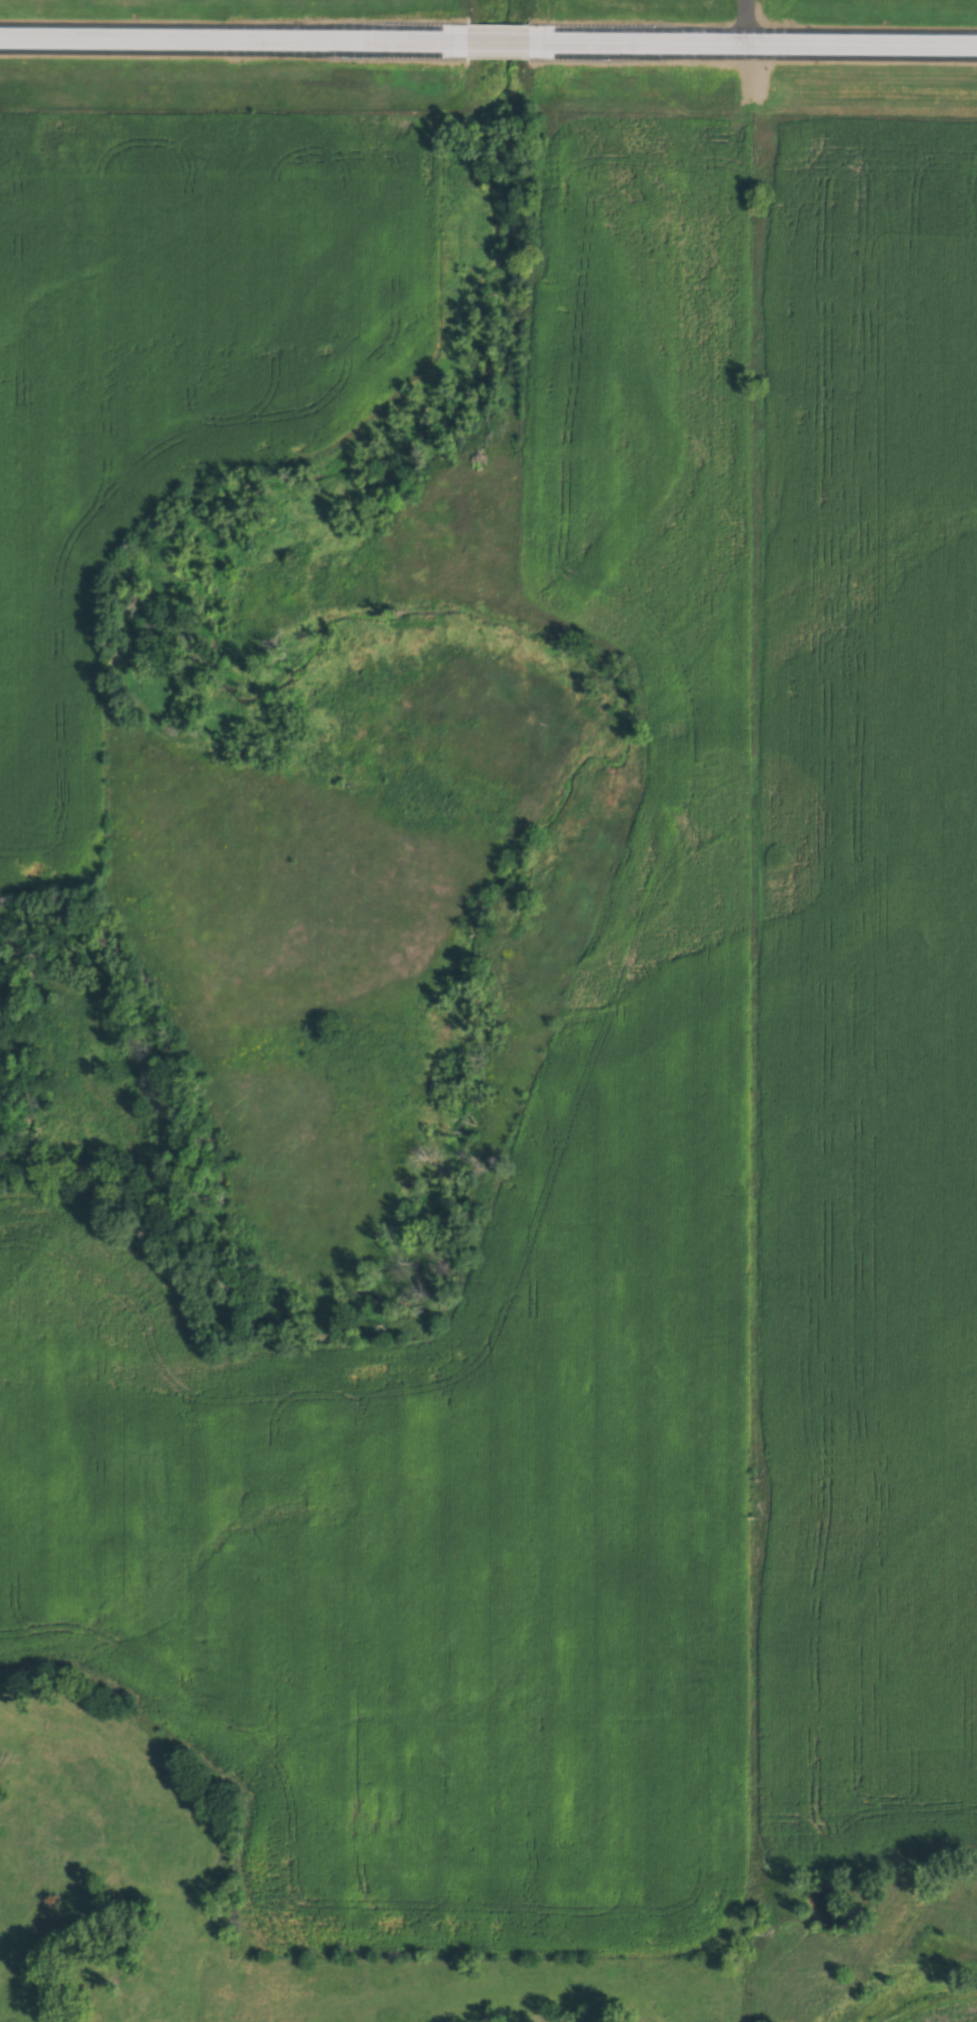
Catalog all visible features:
road: (744, 20)
road: (488, 36)

